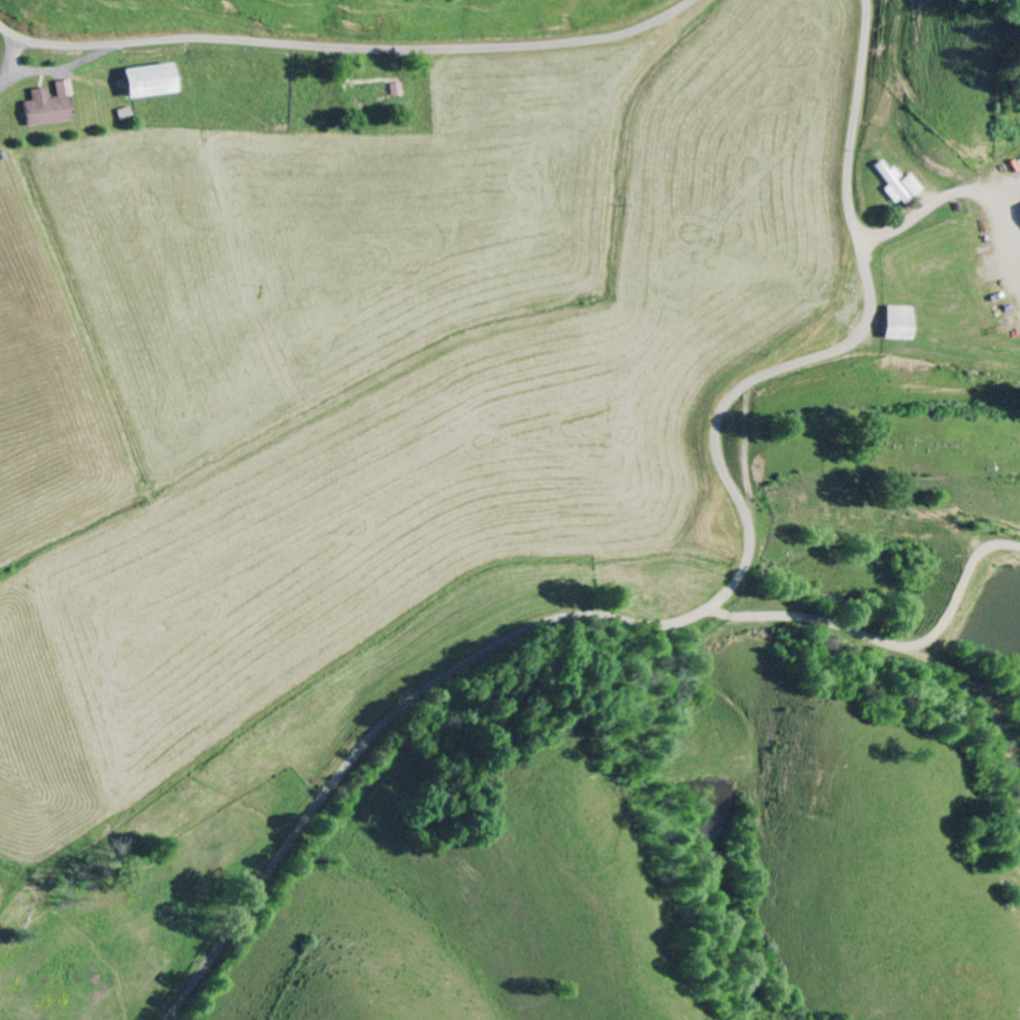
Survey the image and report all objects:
road: (348, 46)
building: (152, 82)
building: (396, 90)
building: (52, 107)
building: (895, 184)
building: (915, 186)
building: (901, 324)
park: (924, 439)
road: (707, 609)

